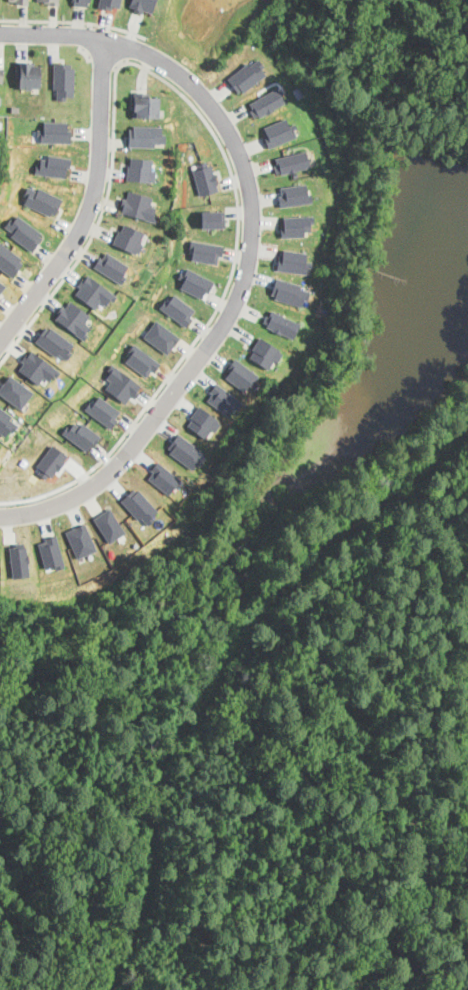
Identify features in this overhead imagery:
building: (22, 1)
building: (53, 1)
building: (81, 2)
building: (107, 3)
building: (143, 5)
road: (73, 19)
road: (126, 45)
building: (1, 74)
building: (28, 74)
building: (247, 75)
building: (63, 79)
building: (0, 98)
road: (190, 102)
building: (266, 102)
building: (145, 104)
building: (54, 131)
building: (278, 132)
building: (145, 135)
building: (292, 161)
building: (53, 165)
building: (140, 169)
building: (205, 178)
building: (294, 194)
building: (42, 200)
road: (90, 203)
building: (138, 205)
building: (213, 218)
building: (296, 225)
building: (24, 231)
building: (128, 238)
road: (250, 249)
building: (206, 250)
building: (9, 259)
building: (293, 261)
building: (111, 266)
building: (195, 282)
building: (2, 285)
building: (93, 291)
building: (289, 291)
building: (178, 309)
building: (73, 318)
building: (281, 323)
building: (161, 336)
building: (54, 342)
building: (265, 352)
building: (141, 359)
building: (36, 366)
building: (241, 375)
building: (120, 383)
building: (15, 390)
building: (222, 399)
building: (103, 410)
building: (201, 421)
building: (6, 422)
building: (81, 434)
building: (185, 451)
building: (51, 461)
building: (164, 477)
building: (139, 505)
building: (109, 524)
building: (80, 540)
building: (50, 551)
building: (18, 560)
building: (68, 701)

